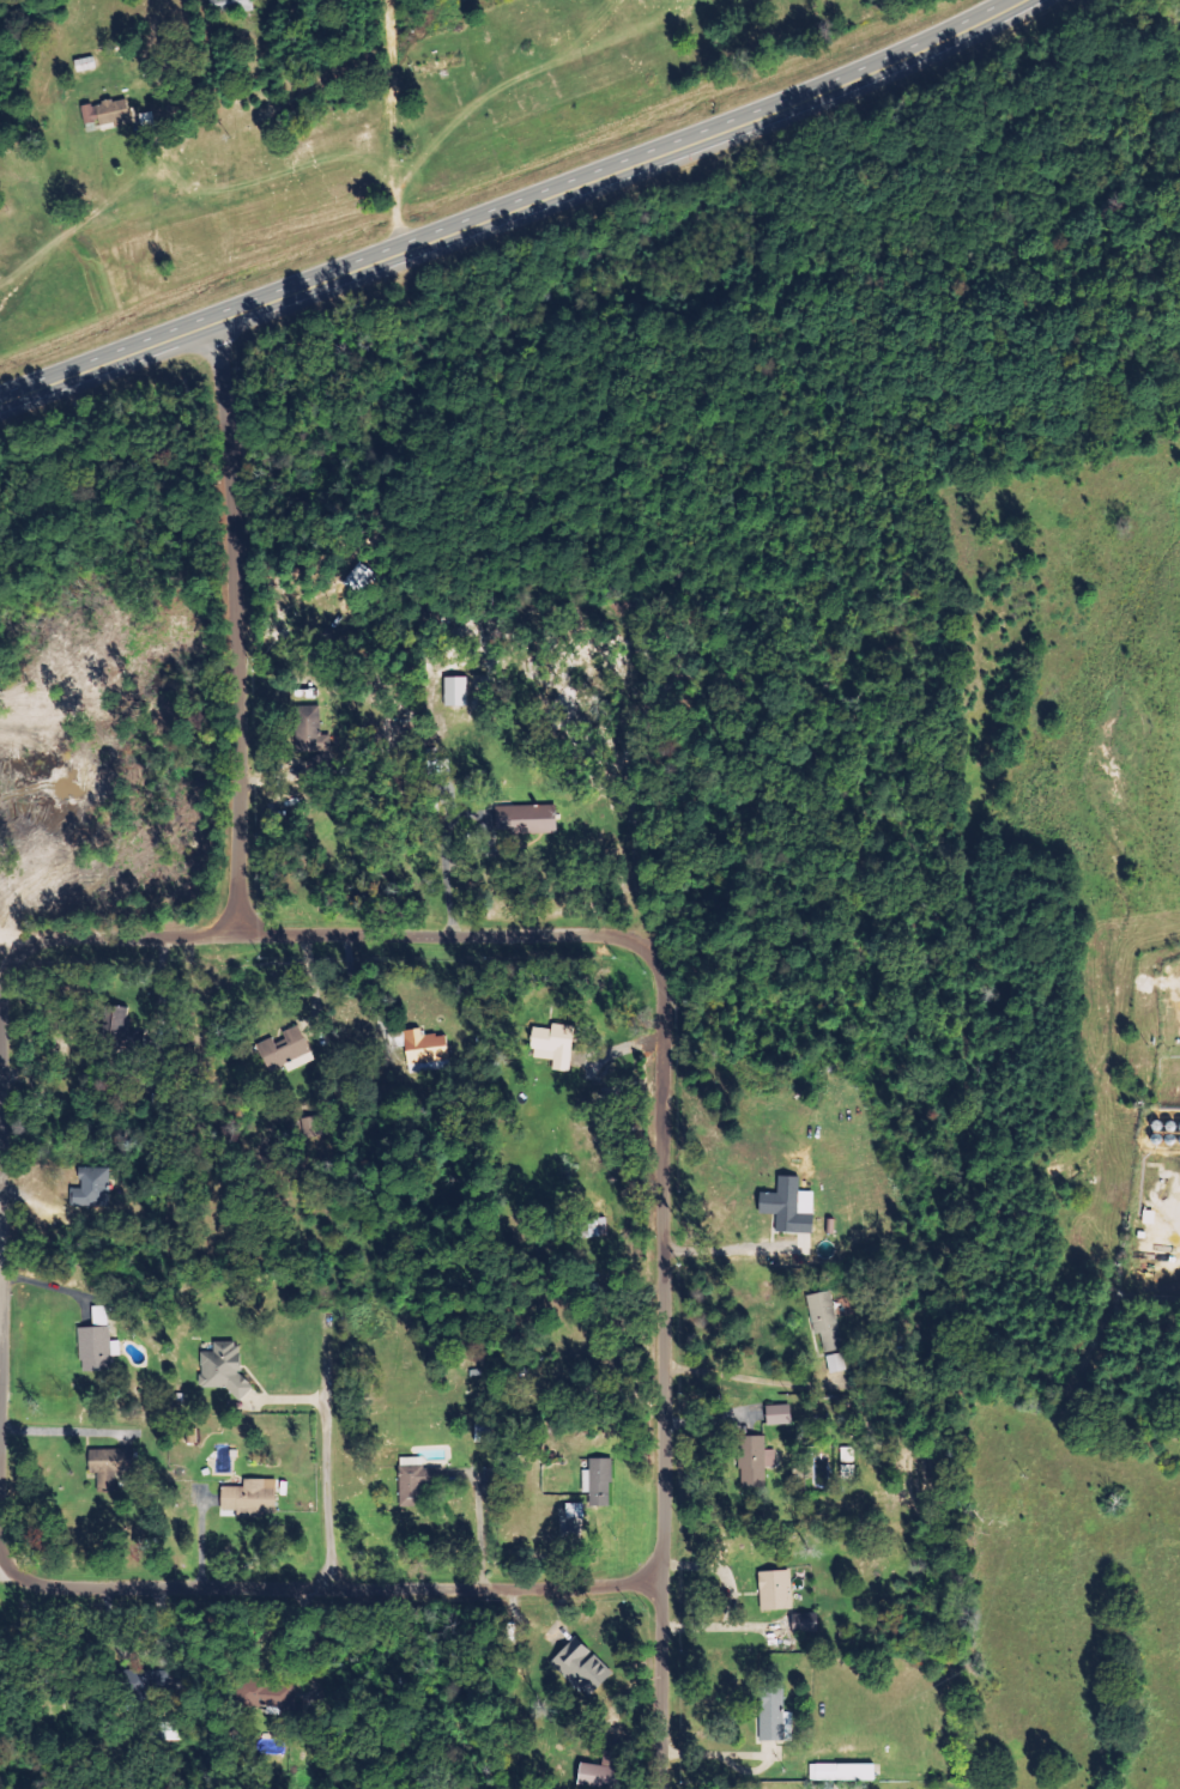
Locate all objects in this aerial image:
road: (1179, 1)
building: (84, 66)
building: (107, 114)
road: (395, 127)
road: (720, 135)
road: (202, 328)
road: (229, 630)
building: (462, 692)
building: (533, 820)
road: (102, 938)
building: (561, 1047)
building: (290, 1048)
building: (430, 1048)
road: (659, 1164)
building: (99, 1188)
building: (793, 1208)
road: (1173, 1211)
building: (833, 1334)
road: (0, 1342)
building: (101, 1350)
building: (228, 1369)
building: (783, 1415)
building: (490, 1435)
road: (326, 1445)
building: (117, 1467)
building: (603, 1475)
building: (420, 1485)
building: (258, 1498)
building: (579, 1511)
road: (320, 1589)
building: (774, 1589)
building: (803, 1624)
building: (579, 1667)
building: (773, 1715)
building: (841, 1772)
building: (593, 1776)

